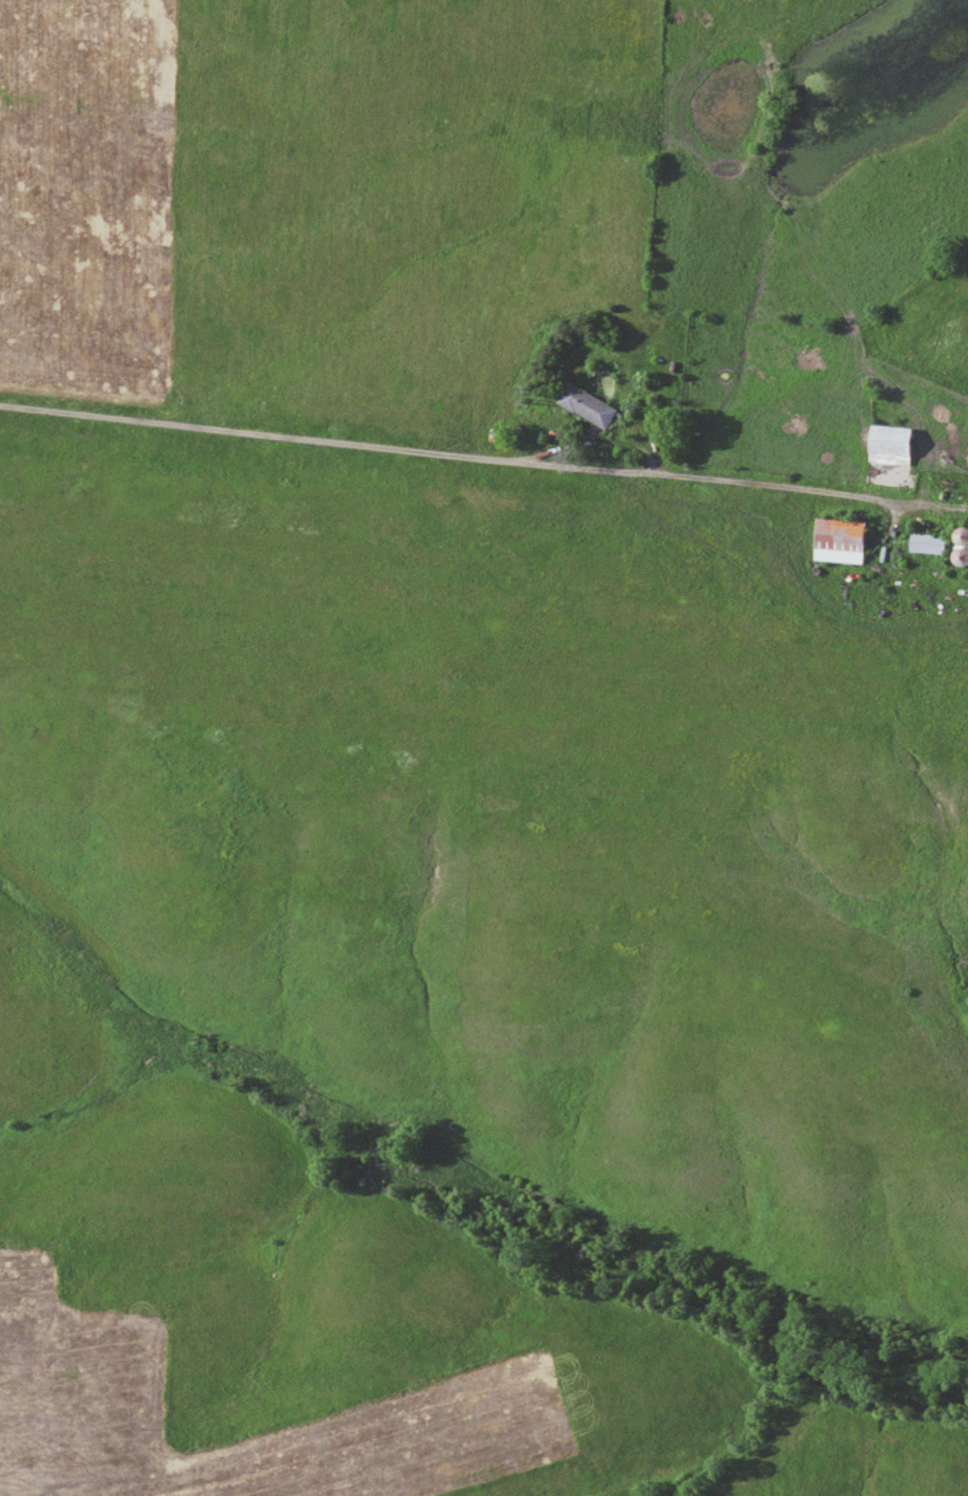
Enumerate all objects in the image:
road: (302, 435)
building: (899, 446)
building: (847, 534)
building: (922, 544)

